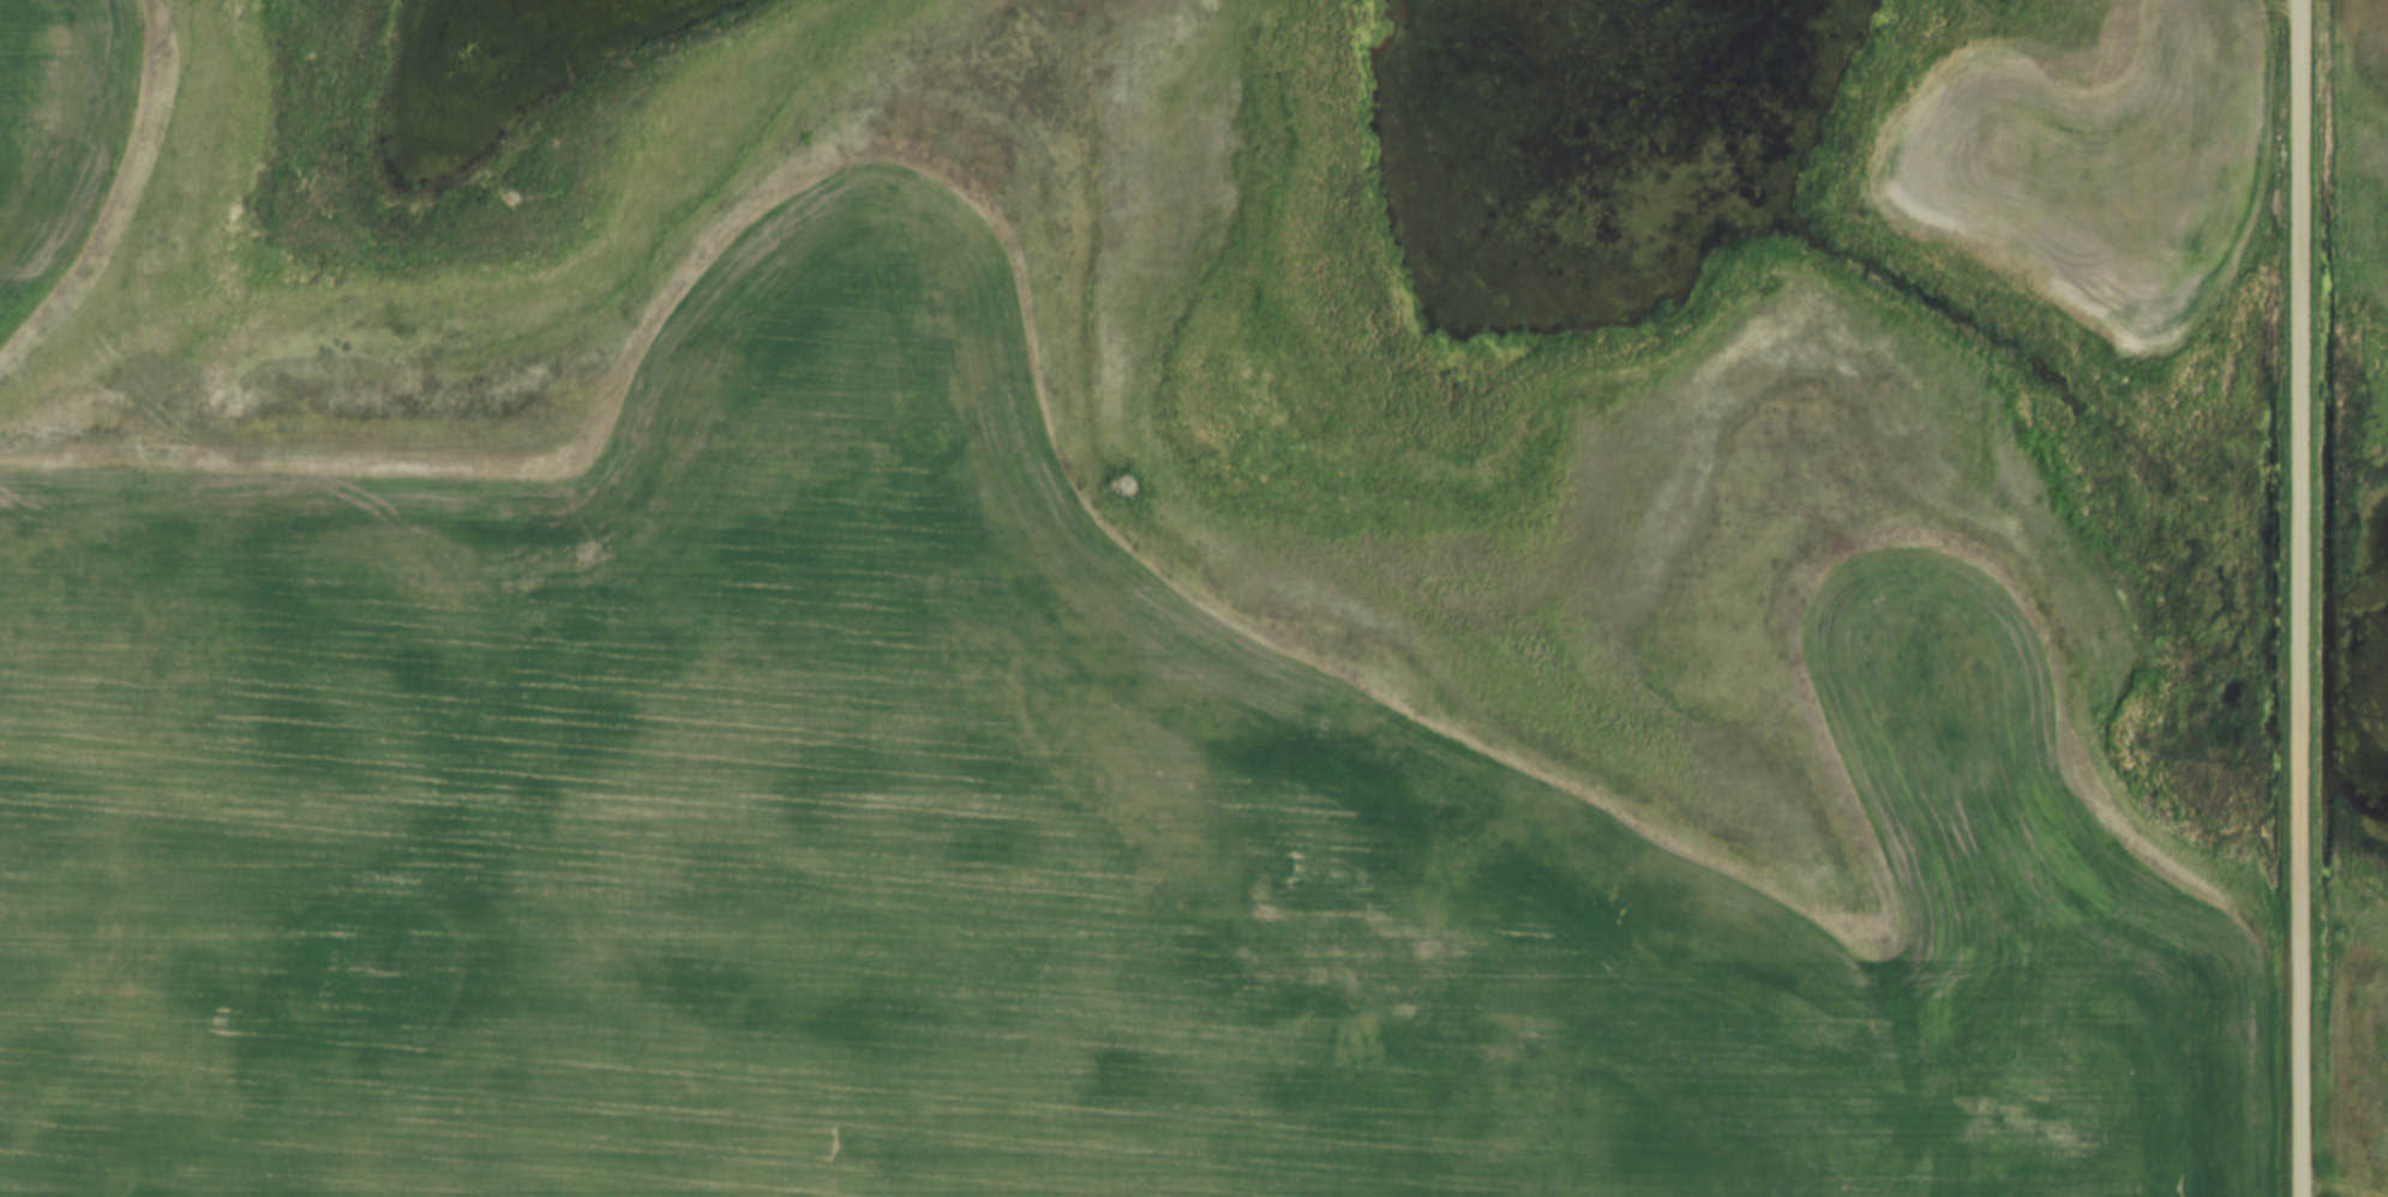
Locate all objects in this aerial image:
road: (2298, 598)

